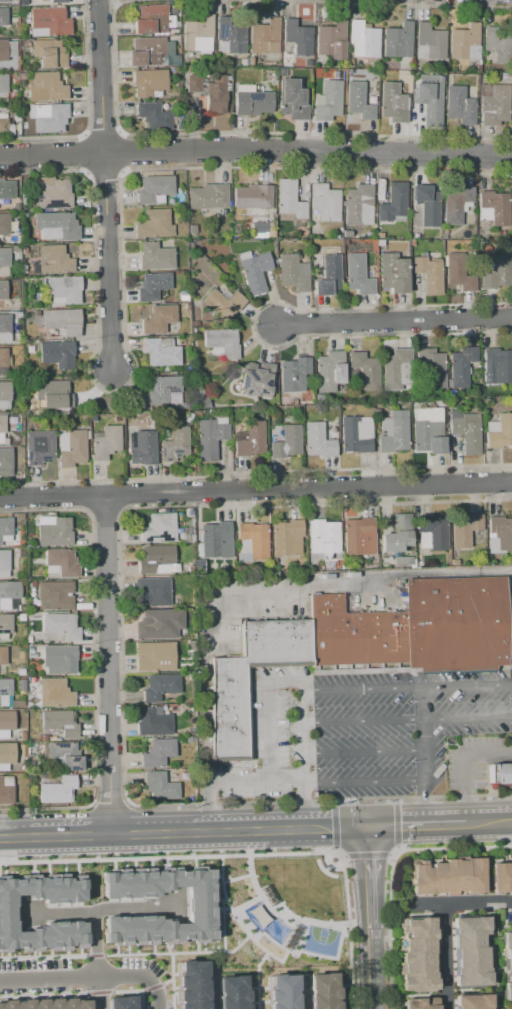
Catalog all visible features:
building: (4, 1)
building: (58, 2)
building: (3, 16)
building: (149, 19)
building: (50, 21)
building: (196, 30)
building: (232, 32)
building: (264, 36)
building: (499, 37)
building: (295, 39)
building: (331, 40)
building: (362, 40)
building: (398, 40)
building: (462, 40)
building: (429, 42)
building: (10, 49)
building: (3, 50)
building: (144, 50)
building: (49, 54)
road: (100, 77)
building: (148, 82)
building: (3, 88)
building: (46, 88)
building: (215, 95)
building: (293, 99)
building: (328, 101)
building: (358, 101)
building: (253, 102)
building: (391, 103)
building: (429, 106)
building: (459, 106)
building: (495, 106)
building: (154, 116)
building: (51, 118)
building: (3, 126)
road: (256, 152)
building: (154, 188)
building: (6, 190)
building: (54, 196)
building: (208, 196)
building: (253, 196)
building: (289, 199)
building: (325, 202)
building: (394, 202)
building: (357, 205)
building: (426, 205)
building: (456, 205)
building: (496, 206)
building: (4, 224)
building: (154, 224)
building: (56, 226)
building: (257, 229)
building: (154, 257)
building: (4, 260)
building: (53, 260)
road: (107, 261)
building: (254, 271)
building: (293, 272)
building: (392, 273)
building: (498, 273)
building: (428, 274)
building: (457, 274)
building: (328, 275)
building: (357, 275)
building: (152, 286)
building: (2, 290)
building: (62, 290)
building: (223, 304)
building: (158, 319)
building: (61, 322)
road: (393, 323)
building: (5, 328)
building: (222, 342)
building: (160, 353)
building: (57, 354)
building: (3, 357)
building: (499, 364)
building: (460, 366)
building: (365, 368)
building: (430, 369)
building: (396, 371)
building: (330, 372)
building: (293, 375)
building: (255, 382)
building: (163, 389)
building: (4, 391)
building: (52, 394)
building: (1, 424)
building: (428, 431)
building: (394, 432)
building: (501, 432)
building: (467, 433)
building: (355, 435)
building: (210, 439)
building: (249, 439)
building: (317, 440)
building: (286, 441)
building: (105, 443)
building: (175, 444)
building: (39, 447)
building: (71, 448)
building: (143, 448)
building: (5, 461)
road: (255, 491)
building: (5, 527)
building: (159, 528)
building: (464, 530)
building: (54, 532)
building: (433, 532)
building: (501, 532)
building: (397, 534)
building: (359, 535)
building: (323, 536)
building: (286, 537)
building: (254, 539)
building: (216, 540)
building: (154, 558)
building: (4, 560)
building: (61, 562)
building: (10, 590)
building: (150, 590)
building: (55, 596)
parking lot: (283, 600)
road: (281, 606)
building: (157, 622)
building: (6, 623)
building: (457, 624)
building: (61, 626)
building: (355, 636)
building: (3, 656)
building: (155, 657)
building: (61, 659)
road: (108, 666)
building: (6, 687)
building: (160, 687)
road: (466, 690)
building: (54, 693)
road: (360, 693)
building: (229, 712)
road: (270, 717)
building: (6, 720)
building: (59, 722)
building: (153, 722)
road: (406, 723)
road: (301, 729)
parking lot: (360, 729)
building: (157, 753)
road: (362, 753)
building: (4, 754)
building: (64, 756)
road: (424, 758)
parking lot: (474, 759)
road: (464, 766)
building: (500, 774)
road: (302, 778)
road: (256, 782)
road: (364, 785)
building: (163, 787)
building: (6, 790)
building: (57, 790)
road: (364, 799)
road: (395, 800)
road: (333, 802)
road: (489, 822)
road: (395, 824)
road: (416, 825)
road: (333, 826)
traffic signals: (367, 826)
road: (316, 828)
road: (228, 830)
road: (152, 833)
road: (69, 835)
road: (13, 837)
road: (334, 849)
road: (396, 849)
road: (393, 853)
road: (367, 855)
road: (390, 855)
road: (343, 856)
road: (247, 857)
road: (485, 862)
building: (447, 877)
building: (501, 877)
road: (235, 878)
road: (369, 887)
road: (461, 902)
road: (244, 903)
building: (197, 907)
road: (100, 909)
road: (277, 909)
park: (281, 910)
building: (7, 912)
road: (502, 919)
road: (221, 922)
road: (302, 934)
park: (320, 940)
road: (93, 943)
building: (470, 951)
road: (178, 952)
building: (416, 954)
road: (491, 954)
road: (94, 955)
road: (271, 955)
road: (443, 956)
road: (43, 957)
road: (257, 965)
building: (507, 966)
road: (371, 978)
road: (62, 979)
road: (171, 981)
road: (166, 982)
road: (149, 984)
building: (189, 984)
road: (152, 987)
road: (126, 990)
building: (231, 991)
road: (303, 991)
building: (324, 991)
road: (99, 992)
building: (280, 992)
road: (98, 993)
road: (43, 994)
road: (432, 994)
road: (211, 995)
road: (139, 999)
building: (121, 1002)
building: (472, 1002)
building: (44, 1003)
building: (418, 1004)
road: (503, 1004)
building: (511, 1008)

